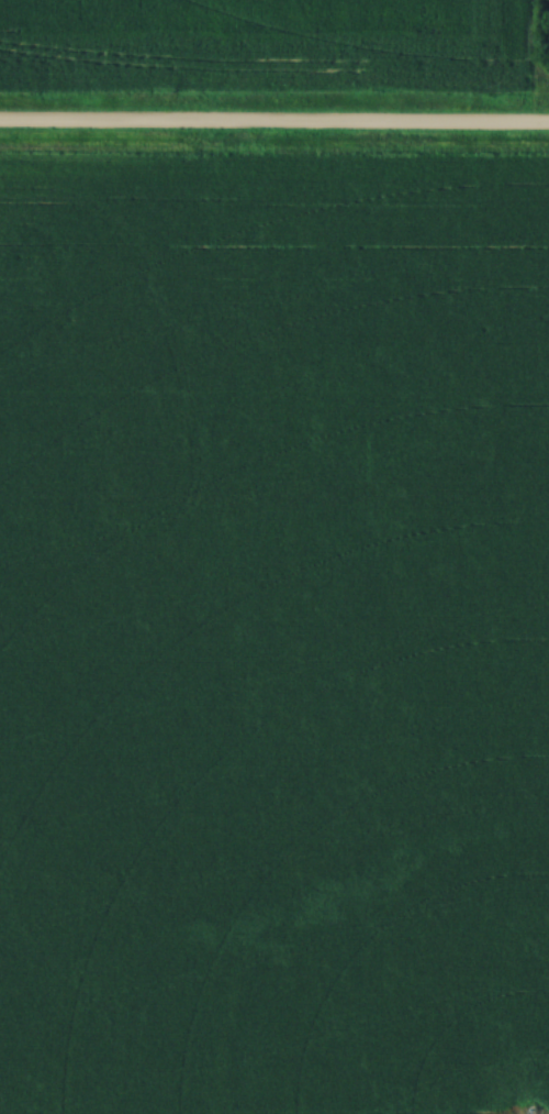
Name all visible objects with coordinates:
road: (273, 128)

